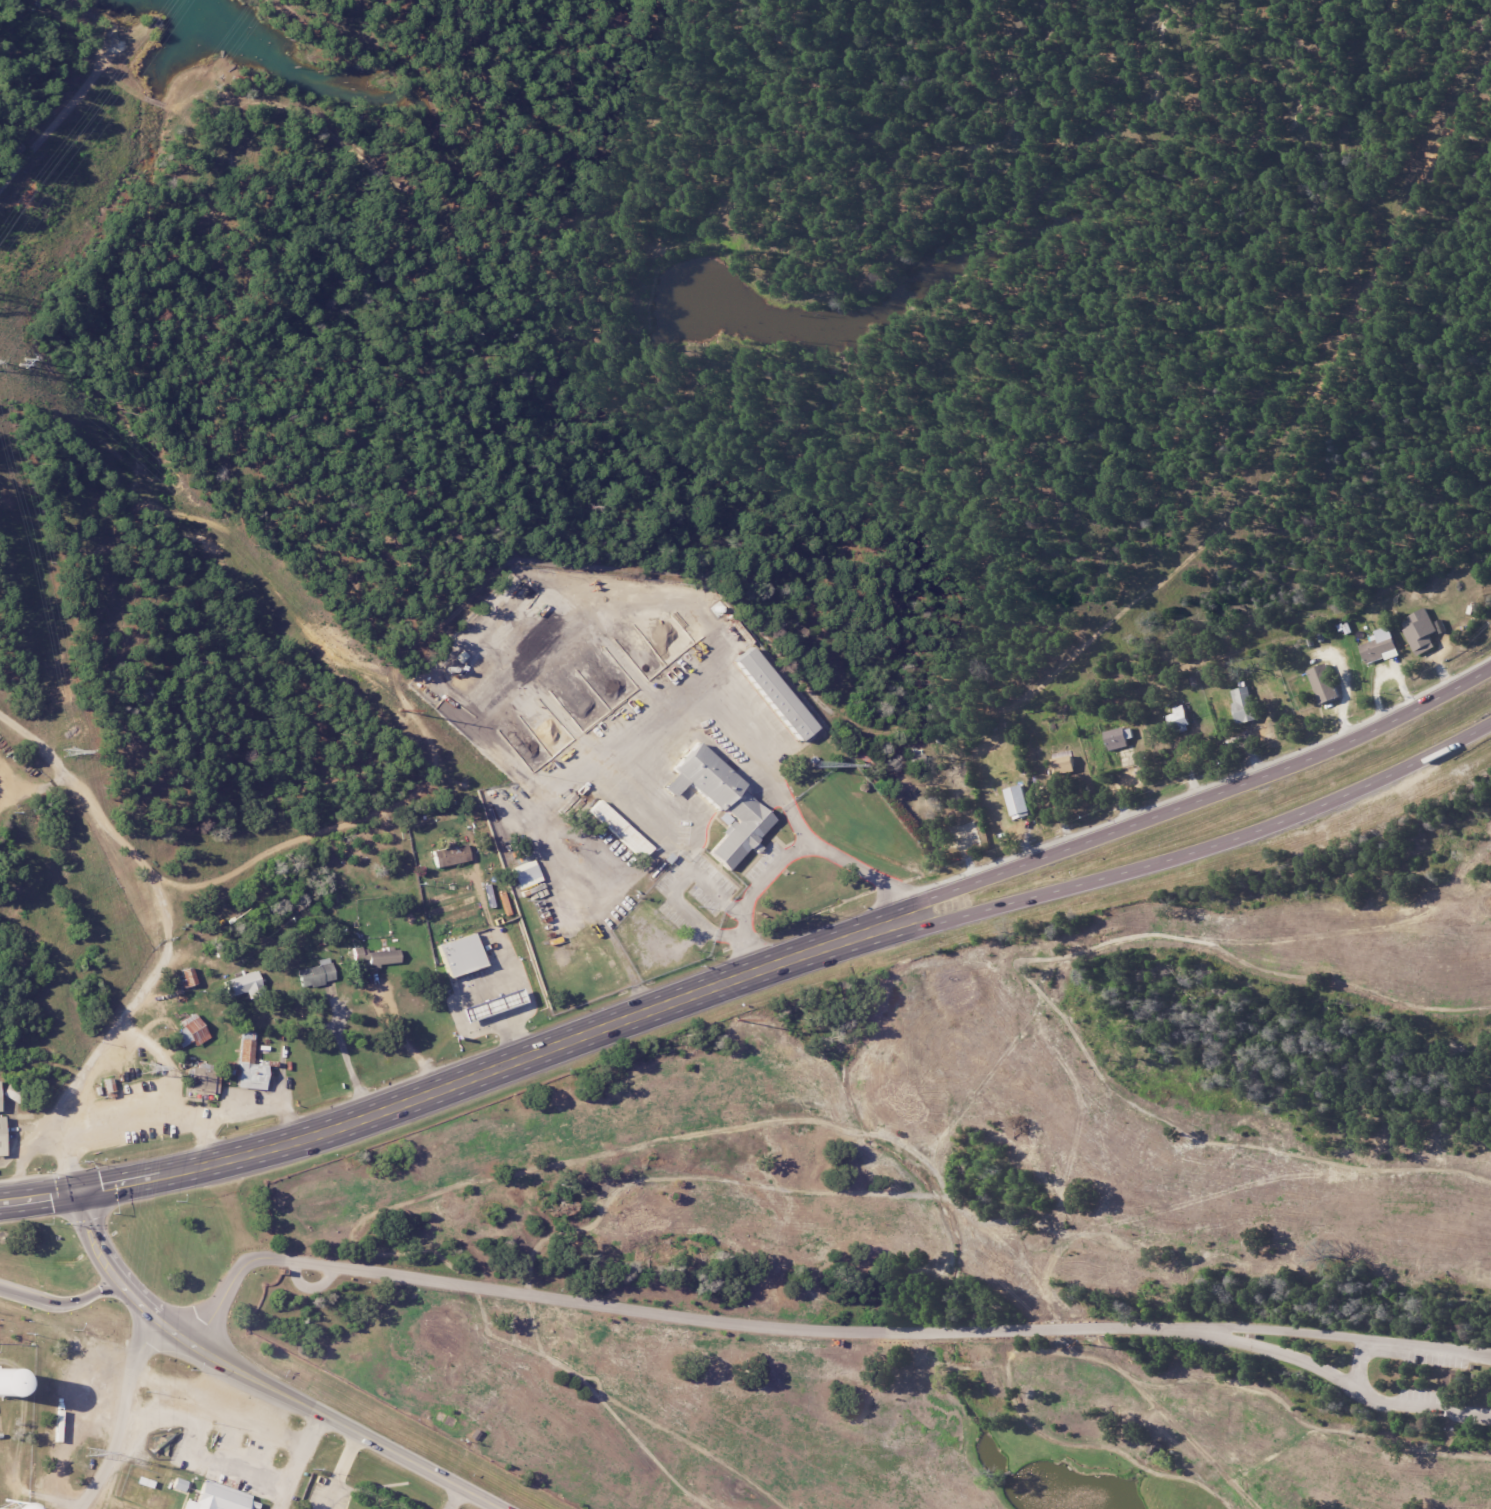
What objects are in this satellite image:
power tower: (19, 361)
building: (1419, 630)
building: (1378, 645)
building: (1322, 683)
building: (772, 694)
building: (1242, 704)
power tower: (401, 713)
building: (1178, 718)
building: (1117, 737)
road: (677, 741)
power tower: (67, 752)
building: (1062, 764)
road: (32, 789)
building: (1016, 800)
building: (722, 803)
road: (544, 812)
road: (1131, 824)
building: (618, 829)
building: (448, 854)
road: (1135, 866)
building: (524, 874)
road: (636, 875)
road: (764, 883)
road: (169, 936)
road: (613, 945)
building: (381, 956)
building: (465, 957)
building: (315, 973)
building: (184, 976)
building: (241, 985)
road: (637, 988)
road: (469, 998)
building: (498, 1008)
gas station: (498, 1008)
power tower: (732, 1016)
building: (193, 1031)
road: (404, 1036)
road: (344, 1051)
road: (162, 1059)
building: (248, 1065)
road: (494, 1066)
power tower: (146, 1068)
building: (199, 1080)
road: (192, 1116)
building: (0, 1139)
road: (204, 1140)
road: (148, 1178)
traffic signals: (75, 1193)
road: (37, 1198)
park: (974, 1222)
road: (90, 1237)
road: (59, 1302)
road: (671, 1316)
road: (149, 1317)
road: (1340, 1338)
power tower: (1089, 1345)
parking lot: (1432, 1356)
road: (1360, 1364)
road: (1338, 1378)
building: (1451, 1380)
building: (4, 1383)
parking lot: (1421, 1398)
park: (53, 1411)
road: (235, 1414)
road: (121, 1415)
road: (344, 1427)
power tower: (90, 1454)
road: (340, 1471)
road: (294, 1477)
building: (216, 1498)
road: (452, 1499)

